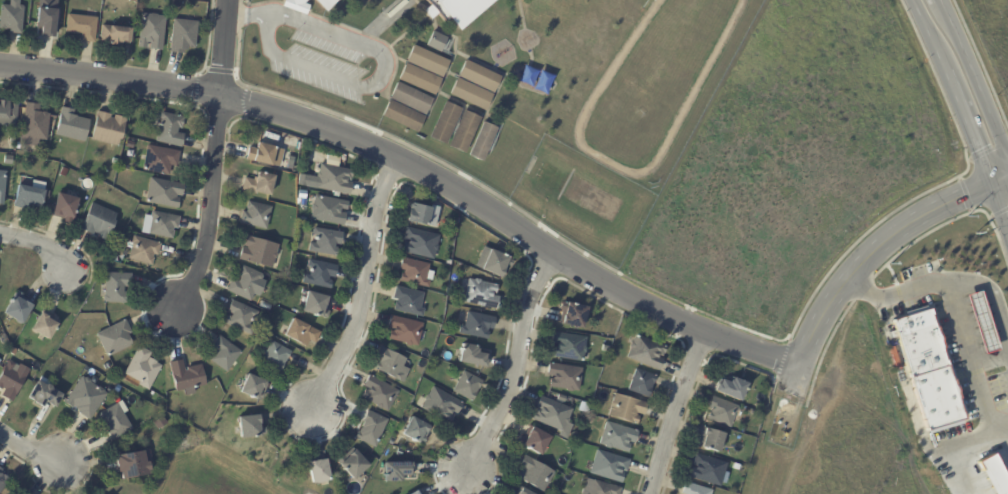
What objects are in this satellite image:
road: (946, 3)
building: (326, 4)
building: (295, 5)
building: (463, 10)
road: (242, 14)
building: (12, 17)
building: (48, 17)
building: (82, 27)
building: (152, 31)
road: (930, 34)
building: (116, 36)
building: (184, 36)
building: (437, 42)
building: (428, 61)
parking lot: (324, 68)
building: (479, 76)
road: (385, 79)
building: (420, 79)
road: (981, 83)
building: (472, 94)
building: (411, 99)
building: (8, 112)
building: (403, 116)
building: (447, 124)
building: (34, 126)
building: (72, 126)
road: (969, 126)
building: (109, 129)
building: (171, 130)
building: (466, 132)
building: (12, 140)
building: (484, 142)
building: (282, 144)
building: (264, 156)
road: (213, 159)
building: (9, 160)
building: (161, 161)
building: (115, 162)
crop: (797, 162)
building: (128, 165)
road: (416, 170)
building: (63, 173)
building: (334, 178)
road: (1000, 180)
building: (258, 186)
building: (2, 187)
building: (164, 194)
building: (31, 196)
road: (1000, 208)
building: (66, 209)
building: (329, 211)
building: (256, 216)
building: (421, 216)
building: (99, 222)
building: (160, 226)
building: (453, 232)
building: (326, 243)
road: (39, 244)
building: (421, 245)
building: (144, 251)
building: (259, 253)
road: (862, 263)
building: (496, 264)
building: (416, 274)
building: (320, 275)
building: (246, 285)
road: (364, 286)
building: (117, 288)
building: (482, 295)
building: (409, 302)
building: (316, 306)
building: (18, 309)
road: (954, 310)
building: (575, 317)
building: (241, 318)
building: (982, 322)
building: (45, 327)
building: (478, 327)
building: (406, 332)
building: (301, 334)
building: (115, 339)
building: (920, 341)
building: (569, 348)
building: (14, 353)
building: (647, 353)
building: (223, 354)
building: (275, 356)
building: (472, 357)
building: (59, 358)
building: (0, 360)
building: (249, 362)
building: (423, 363)
building: (391, 366)
road: (516, 368)
building: (143, 369)
building: (43, 371)
building: (187, 377)
building: (565, 378)
building: (10, 383)
building: (642, 384)
building: (468, 387)
building: (254, 389)
building: (733, 391)
building: (379, 395)
building: (44, 396)
building: (937, 396)
building: (86, 399)
building: (562, 400)
building: (442, 406)
building: (627, 411)
road: (675, 412)
building: (723, 413)
building: (554, 417)
building: (115, 422)
building: (160, 424)
building: (251, 427)
building: (372, 430)
building: (416, 432)
building: (618, 438)
building: (712, 441)
building: (536, 443)
road: (29, 450)
building: (133, 466)
building: (354, 466)
building: (610, 468)
building: (736, 468)
building: (0, 469)
building: (708, 471)
building: (398, 472)
building: (320, 473)
building: (535, 475)
building: (572, 475)
building: (3, 482)
building: (599, 488)
building: (695, 490)
building: (416, 492)
building: (522, 492)

